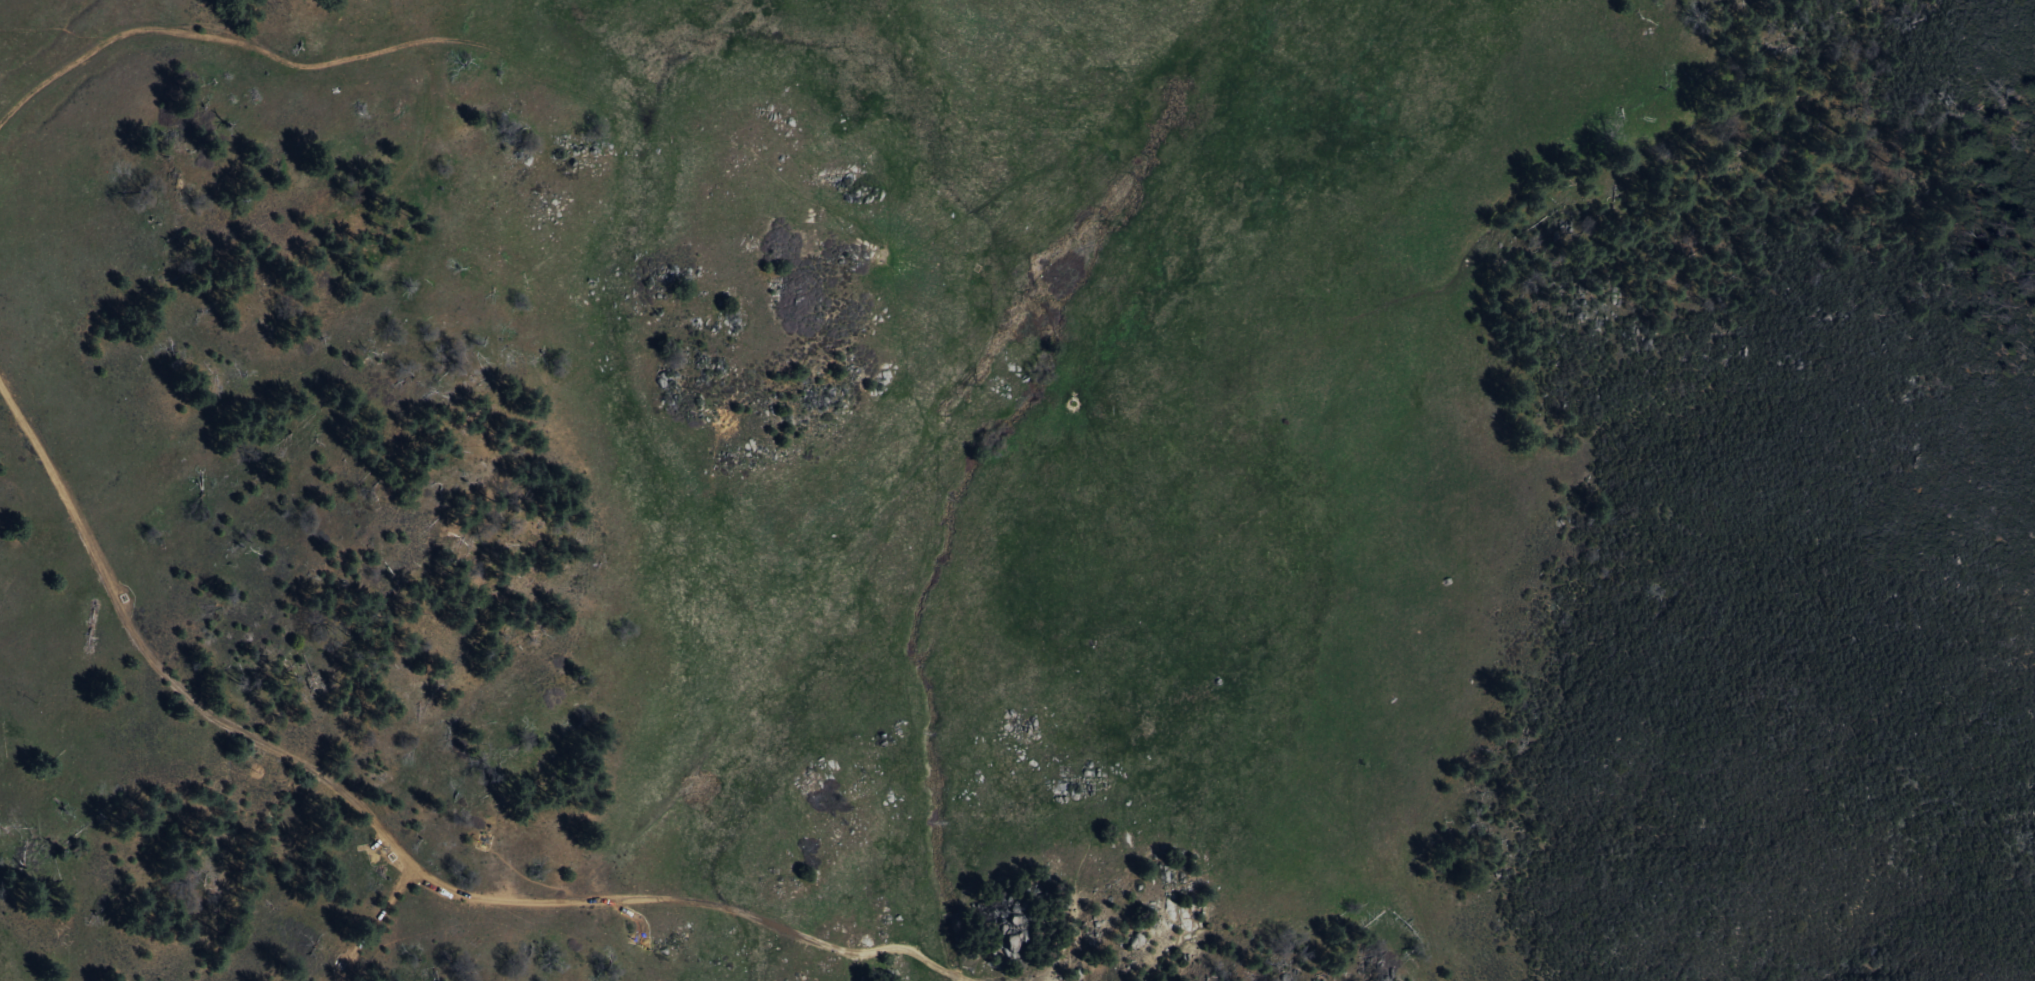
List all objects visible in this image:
road: (384, 842)

